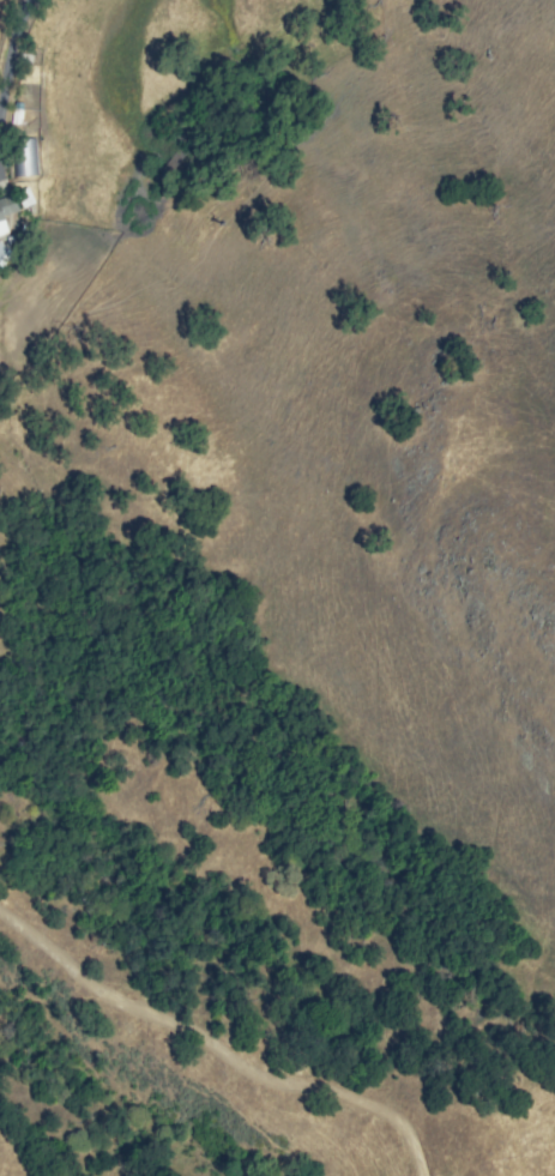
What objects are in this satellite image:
crop: (8, 23)
road: (16, 52)
building: (25, 156)
building: (7, 213)
building: (1, 253)

